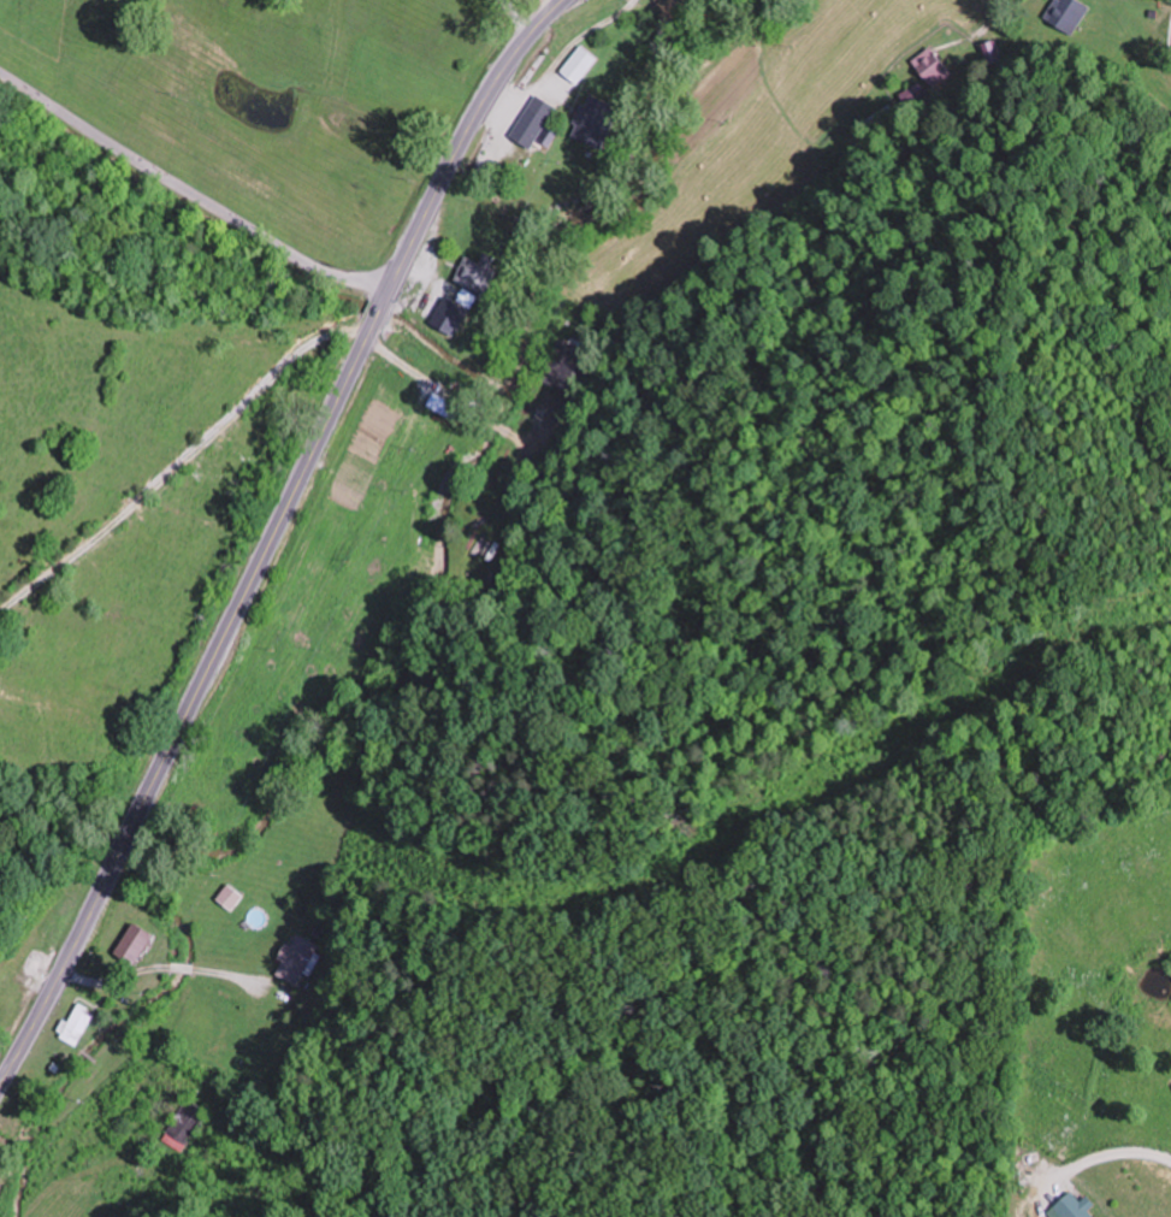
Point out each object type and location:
building: (1066, 13)
building: (988, 51)
building: (579, 64)
building: (929, 66)
building: (910, 94)
road: (996, 120)
building: (534, 122)
building: (595, 122)
road: (191, 191)
building: (477, 272)
building: (568, 366)
road: (273, 536)
building: (489, 550)
building: (134, 944)
building: (296, 959)
road: (181, 967)
road: (199, 969)
road: (114, 976)
building: (77, 1024)
building: (223, 1052)
building: (184, 1126)
building: (4, 1166)
building: (1077, 1206)

